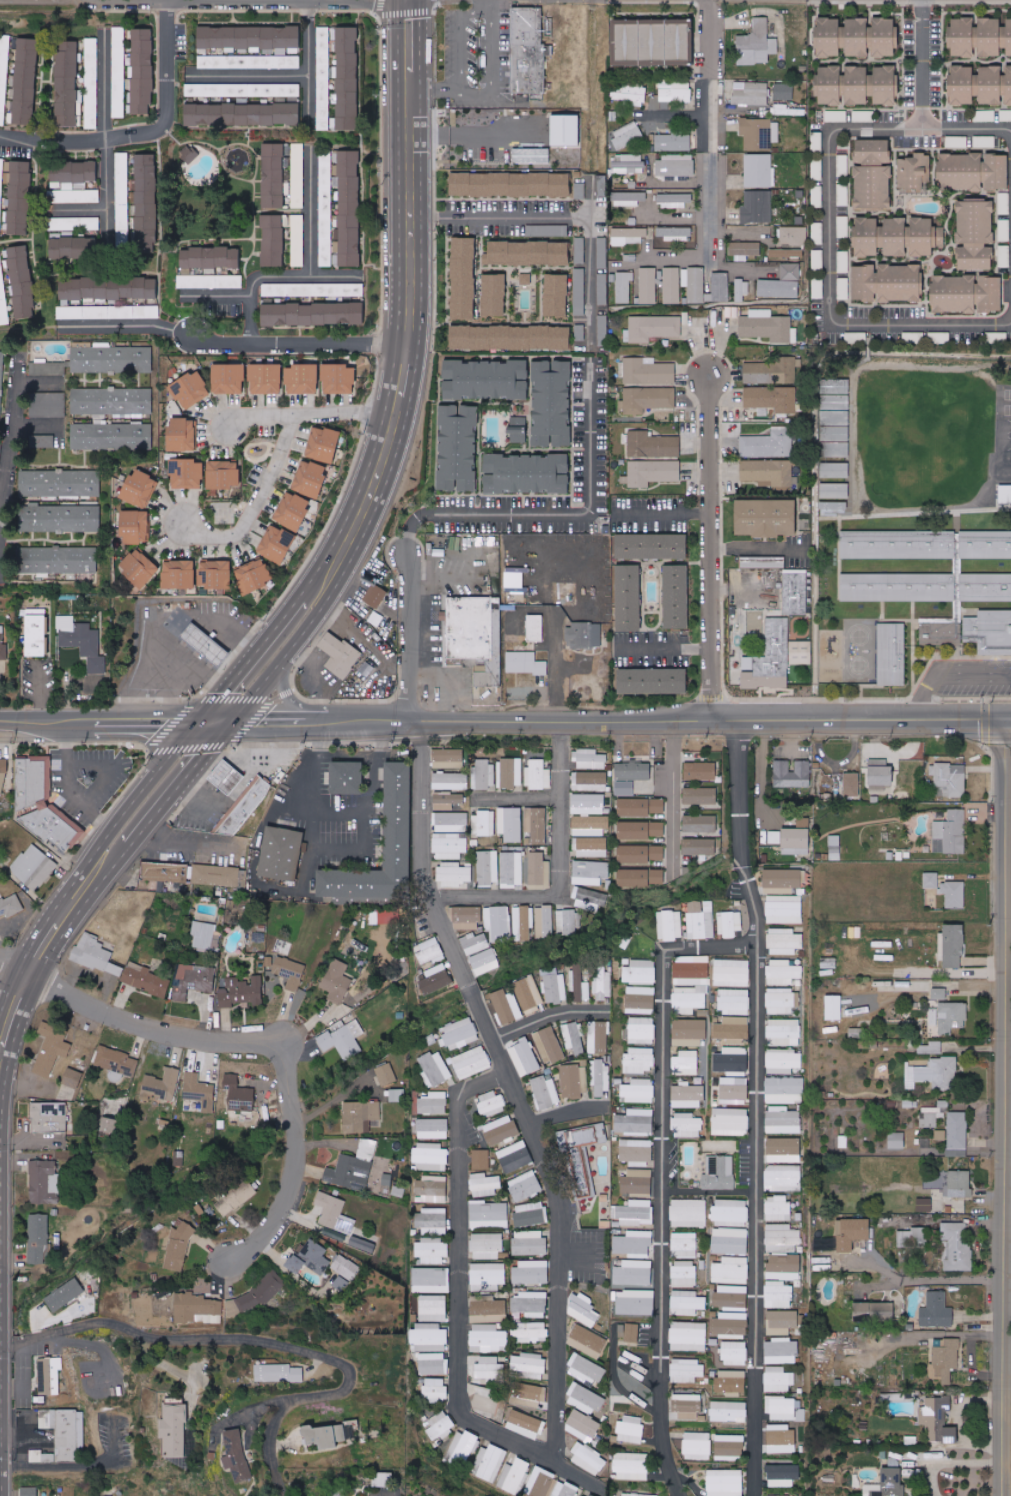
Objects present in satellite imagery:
road: (81, 1)
road: (114, 2)
building: (856, 35)
building: (118, 36)
building: (249, 36)
building: (979, 36)
road: (460, 40)
building: (655, 40)
building: (680, 40)
building: (627, 42)
building: (757, 43)
road: (412, 48)
building: (526, 53)
road: (313, 57)
parking lot: (475, 60)
building: (248, 61)
road: (923, 63)
building: (142, 70)
road: (255, 75)
building: (3, 77)
building: (348, 77)
building: (323, 78)
building: (25, 80)
building: (66, 82)
building: (829, 83)
building: (871, 84)
building: (976, 84)
building: (1008, 84)
road: (491, 87)
building: (241, 89)
building: (784, 91)
building: (629, 92)
building: (676, 92)
building: (751, 92)
building: (243, 114)
building: (836, 115)
road: (711, 125)
road: (109, 126)
road: (967, 126)
building: (565, 129)
road: (144, 131)
building: (759, 133)
road: (478, 134)
building: (626, 136)
building: (816, 141)
building: (673, 142)
building: (530, 154)
building: (628, 163)
building: (675, 165)
building: (817, 169)
building: (759, 170)
building: (913, 170)
building: (962, 170)
building: (997, 171)
building: (7, 172)
building: (873, 174)
building: (273, 175)
building: (297, 175)
building: (1, 183)
building: (511, 184)
building: (581, 190)
road: (592, 195)
building: (75, 196)
building: (20, 197)
building: (628, 199)
building: (674, 200)
building: (1003, 203)
building: (757, 206)
building: (325, 208)
building: (349, 208)
building: (147, 209)
road: (315, 209)
road: (569, 215)
road: (674, 215)
building: (75, 223)
building: (547, 230)
building: (675, 233)
building: (975, 234)
building: (628, 236)
building: (793, 236)
building: (881, 236)
building: (925, 236)
building: (273, 239)
building: (297, 240)
building: (73, 247)
building: (745, 248)
building: (578, 250)
building: (528, 252)
building: (601, 252)
building: (786, 252)
building: (211, 257)
building: (630, 257)
road: (676, 258)
building: (817, 260)
road: (830, 269)
building: (789, 271)
road: (273, 272)
building: (464, 277)
building: (22, 281)
building: (209, 281)
building: (887, 282)
building: (694, 284)
building: (648, 285)
building: (671, 285)
building: (623, 286)
building: (108, 287)
building: (719, 287)
building: (602, 288)
building: (778, 288)
building: (313, 289)
building: (741, 290)
building: (579, 291)
building: (955, 293)
building: (990, 293)
building: (494, 294)
building: (556, 294)
building: (3, 299)
building: (314, 313)
building: (767, 326)
building: (652, 328)
building: (602, 330)
building: (579, 332)
building: (511, 337)
road: (232, 343)
building: (111, 359)
building: (49, 368)
building: (648, 371)
building: (772, 371)
building: (228, 378)
building: (266, 378)
building: (339, 378)
building: (302, 379)
building: (486, 379)
road: (40, 382)
building: (1, 384)
building: (190, 389)
building: (835, 394)
building: (771, 398)
building: (647, 399)
building: (112, 401)
building: (552, 402)
building: (48, 405)
road: (308, 414)
road: (390, 418)
building: (835, 425)
road: (38, 427)
building: (518, 429)
building: (183, 433)
building: (112, 436)
building: (43, 442)
building: (324, 443)
road: (8, 444)
building: (652, 444)
building: (768, 444)
building: (458, 447)
building: (835, 448)
building: (835, 469)
building: (653, 472)
building: (186, 473)
building: (527, 473)
building: (767, 473)
building: (224, 474)
building: (311, 478)
building: (59, 483)
building: (139, 488)
building: (835, 490)
building: (1005, 493)
road: (255, 500)
building: (833, 507)
building: (293, 510)
road: (561, 512)
road: (661, 512)
building: (766, 517)
building: (65, 518)
building: (135, 526)
building: (277, 543)
building: (652, 546)
road: (756, 547)
road: (711, 548)
road: (0, 556)
building: (57, 559)
building: (754, 562)
building: (957, 565)
building: (140, 567)
building: (180, 573)
building: (216, 573)
building: (255, 574)
building: (985, 587)
road: (742, 588)
building: (795, 591)
building: (376, 595)
building: (676, 596)
building: (629, 597)
road: (174, 620)
building: (470, 627)
building: (535, 628)
building: (990, 631)
building: (36, 632)
building: (940, 633)
road: (406, 635)
building: (584, 635)
building: (82, 642)
building: (206, 644)
building: (3, 645)
road: (663, 646)
building: (800, 652)
building: (891, 653)
building: (340, 654)
road: (177, 658)
building: (771, 658)
road: (192, 662)
building: (525, 663)
road: (552, 672)
building: (490, 674)
road: (948, 675)
building: (653, 681)
road: (226, 712)
road: (964, 720)
road: (670, 722)
road: (320, 723)
road: (108, 724)
building: (448, 758)
building: (589, 759)
road: (375, 764)
road: (110, 766)
building: (633, 770)
building: (700, 770)
building: (881, 772)
building: (510, 773)
building: (3, 774)
building: (484, 774)
building: (792, 774)
building: (538, 775)
building: (227, 777)
building: (347, 777)
building: (950, 778)
building: (450, 781)
building: (590, 781)
building: (851, 784)
building: (624, 788)
road: (73, 792)
road: (672, 793)
building: (700, 795)
road: (520, 799)
building: (447, 801)
building: (588, 804)
building: (43, 805)
building: (246, 806)
building: (640, 806)
building: (398, 816)
building: (451, 822)
building: (803, 822)
building: (483, 823)
building: (510, 823)
building: (700, 823)
building: (536, 824)
building: (590, 826)
building: (640, 830)
building: (950, 833)
building: (774, 837)
building: (796, 841)
road: (183, 845)
building: (450, 846)
building: (699, 846)
building: (592, 847)
building: (834, 847)
road: (327, 849)
building: (282, 853)
building: (639, 853)
building: (34, 867)
building: (487, 867)
building: (512, 869)
building: (539, 871)
building: (167, 872)
building: (589, 872)
road: (564, 873)
building: (215, 875)
building: (454, 875)
building: (640, 877)
building: (781, 880)
building: (931, 880)
road: (90, 887)
building: (209, 890)
building: (953, 894)
building: (588, 899)
building: (10, 906)
building: (784, 909)
building: (466, 918)
building: (700, 919)
building: (543, 921)
building: (567, 922)
building: (497, 923)
building: (522, 923)
building: (729, 923)
building: (669, 925)
building: (205, 935)
building: (258, 936)
building: (784, 941)
building: (474, 943)
building: (952, 946)
building: (431, 951)
building: (96, 953)
building: (829, 960)
building: (484, 961)
road: (16, 967)
building: (288, 971)
building: (640, 971)
building: (731, 972)
building: (782, 972)
building: (145, 979)
building: (435, 979)
building: (193, 980)
building: (337, 981)
building: (690, 981)
building: (579, 984)
building: (553, 986)
building: (601, 986)
building: (241, 991)
building: (529, 994)
building: (939, 994)
building: (640, 1000)
building: (733, 1001)
building: (782, 1001)
building: (506, 1006)
building: (834, 1007)
road: (545, 1016)
building: (952, 1017)
road: (154, 1027)
building: (641, 1030)
building: (733, 1030)
building: (783, 1031)
building: (689, 1032)
building: (856, 1033)
building: (460, 1034)
building: (597, 1037)
building: (573, 1038)
building: (343, 1040)
building: (548, 1045)
building: (51, 1049)
building: (639, 1060)
building: (783, 1061)
building: (471, 1062)
building: (685, 1062)
building: (117, 1063)
building: (436, 1068)
building: (938, 1073)
building: (386, 1074)
building: (72, 1077)
building: (600, 1078)
building: (574, 1081)
building: (162, 1085)
building: (638, 1090)
building: (734, 1090)
building: (784, 1090)
building: (199, 1091)
building: (546, 1092)
building: (238, 1094)
building: (397, 1095)
building: (687, 1095)
building: (433, 1103)
building: (491, 1103)
road: (760, 1107)
road: (565, 1112)
building: (360, 1116)
building: (49, 1117)
building: (931, 1118)
building: (109, 1119)
building: (782, 1120)
building: (729, 1121)
building: (635, 1122)
building: (686, 1125)
building: (433, 1128)
building: (500, 1130)
building: (957, 1131)
building: (896, 1140)
building: (842, 1142)
building: (637, 1151)
building: (782, 1151)
building: (582, 1152)
building: (179, 1157)
building: (430, 1157)
building: (514, 1157)
building: (480, 1159)
road: (293, 1166)
building: (353, 1167)
building: (719, 1173)
building: (783, 1178)
road: (666, 1180)
building: (637, 1181)
building: (44, 1182)
building: (960, 1183)
building: (484, 1185)
building: (524, 1186)
building: (431, 1189)
building: (236, 1198)
building: (925, 1205)
building: (777, 1209)
building: (729, 1211)
building: (635, 1212)
building: (334, 1213)
building: (688, 1213)
building: (489, 1214)
building: (530, 1214)
building: (431, 1221)
building: (852, 1233)
building: (38, 1238)
building: (781, 1238)
building: (912, 1238)
building: (730, 1241)
building: (529, 1242)
building: (362, 1244)
building: (633, 1244)
building: (683, 1244)
building: (486, 1245)
building: (957, 1245)
building: (179, 1248)
building: (432, 1252)
road: (574, 1255)
building: (310, 1258)
road: (1010, 1266)
building: (346, 1267)
building: (783, 1267)
building: (730, 1270)
building: (530, 1272)
building: (633, 1272)
building: (683, 1273)
building: (487, 1276)
road: (950, 1277)
building: (431, 1280)
building: (340, 1283)
building: (262, 1291)
building: (778, 1294)
building: (65, 1295)
building: (686, 1303)
building: (529, 1304)
building: (197, 1308)
building: (433, 1308)
building: (487, 1309)
road: (557, 1309)
building: (583, 1310)
building: (936, 1311)
building: (874, 1312)
building: (781, 1322)
building: (730, 1324)
building: (529, 1332)
building: (621, 1332)
building: (632, 1333)
building: (688, 1336)
building: (428, 1337)
building: (487, 1338)
road: (263, 1340)
building: (587, 1341)
building: (781, 1351)
building: (733, 1353)
building: (945, 1359)
building: (433, 1363)
building: (527, 1365)
building: (489, 1368)
building: (585, 1370)
building: (686, 1371)
building: (278, 1373)
building: (49, 1376)
building: (778, 1379)
building: (731, 1382)
building: (434, 1389)
building: (893, 1397)
building: (586, 1399)
building: (483, 1402)
building: (688, 1407)
building: (784, 1409)
building: (728, 1411)
building: (937, 1420)
building: (525, 1424)
building: (440, 1425)
building: (581, 1426)
building: (630, 1430)
building: (174, 1431)
road: (1006, 1431)
building: (65, 1432)
building: (326, 1436)
building: (781, 1439)
building: (697, 1444)
building: (729, 1445)
building: (460, 1449)
building: (236, 1455)
building: (40, 1457)
building: (588, 1459)
road: (1010, 1461)
building: (489, 1463)
road: (953, 1463)
road: (563, 1466)
building: (631, 1466)
road: (72, 1467)
building: (782, 1475)
building: (513, 1476)
building: (386, 1480)
building: (538, 1482)
building: (724, 1482)
building: (887, 1484)
building: (564, 1489)
building: (29, 1491)
building: (343, 1494)
building: (584, 1495)
building: (637, 1495)

